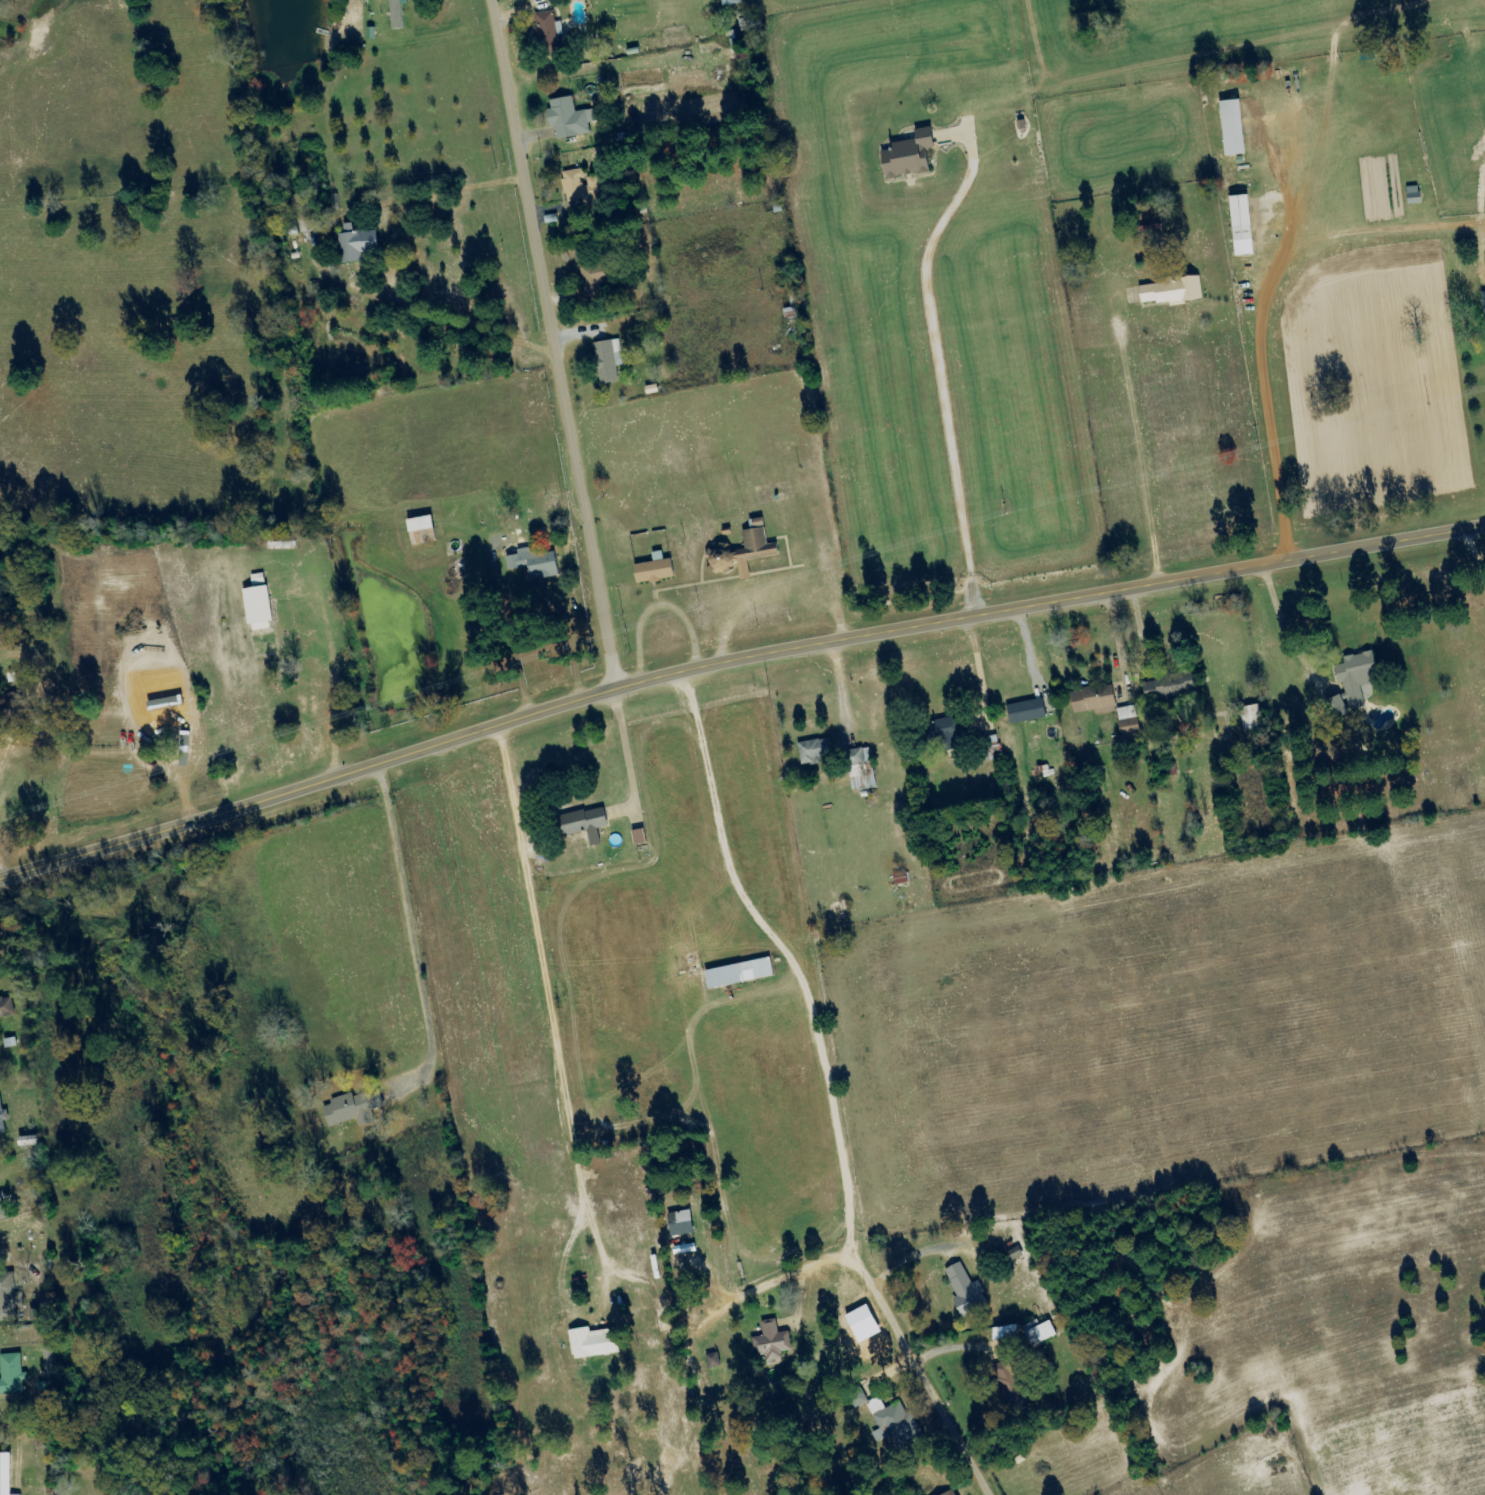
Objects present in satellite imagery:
building: (728, 2)
building: (395, 13)
building: (549, 34)
building: (568, 119)
building: (1230, 128)
building: (905, 156)
building: (578, 187)
building: (1410, 196)
building: (1239, 226)
building: (354, 244)
building: (591, 280)
building: (1168, 291)
building: (1484, 299)
road: (584, 345)
building: (607, 361)
building: (419, 530)
building: (740, 552)
building: (532, 568)
road: (986, 569)
building: (652, 570)
building: (255, 606)
road: (709, 619)
road: (733, 662)
building: (1353, 678)
building: (1166, 687)
building: (1091, 701)
building: (1334, 707)
building: (1024, 711)
building: (1249, 719)
building: (1127, 721)
building: (940, 734)
building: (812, 752)
building: (859, 769)
building: (582, 824)
road: (785, 957)
building: (736, 974)
building: (7, 1007)
building: (352, 1110)
building: (3, 1118)
building: (3, 1207)
building: (685, 1223)
road: (601, 1288)
building: (969, 1291)
building: (10, 1298)
building: (1044, 1332)
building: (1013, 1333)
building: (774, 1342)
building: (598, 1343)
building: (717, 1361)
building: (52, 1362)
building: (15, 1376)
building: (1010, 1380)
building: (901, 1428)
building: (7, 1474)
building: (946, 1493)

